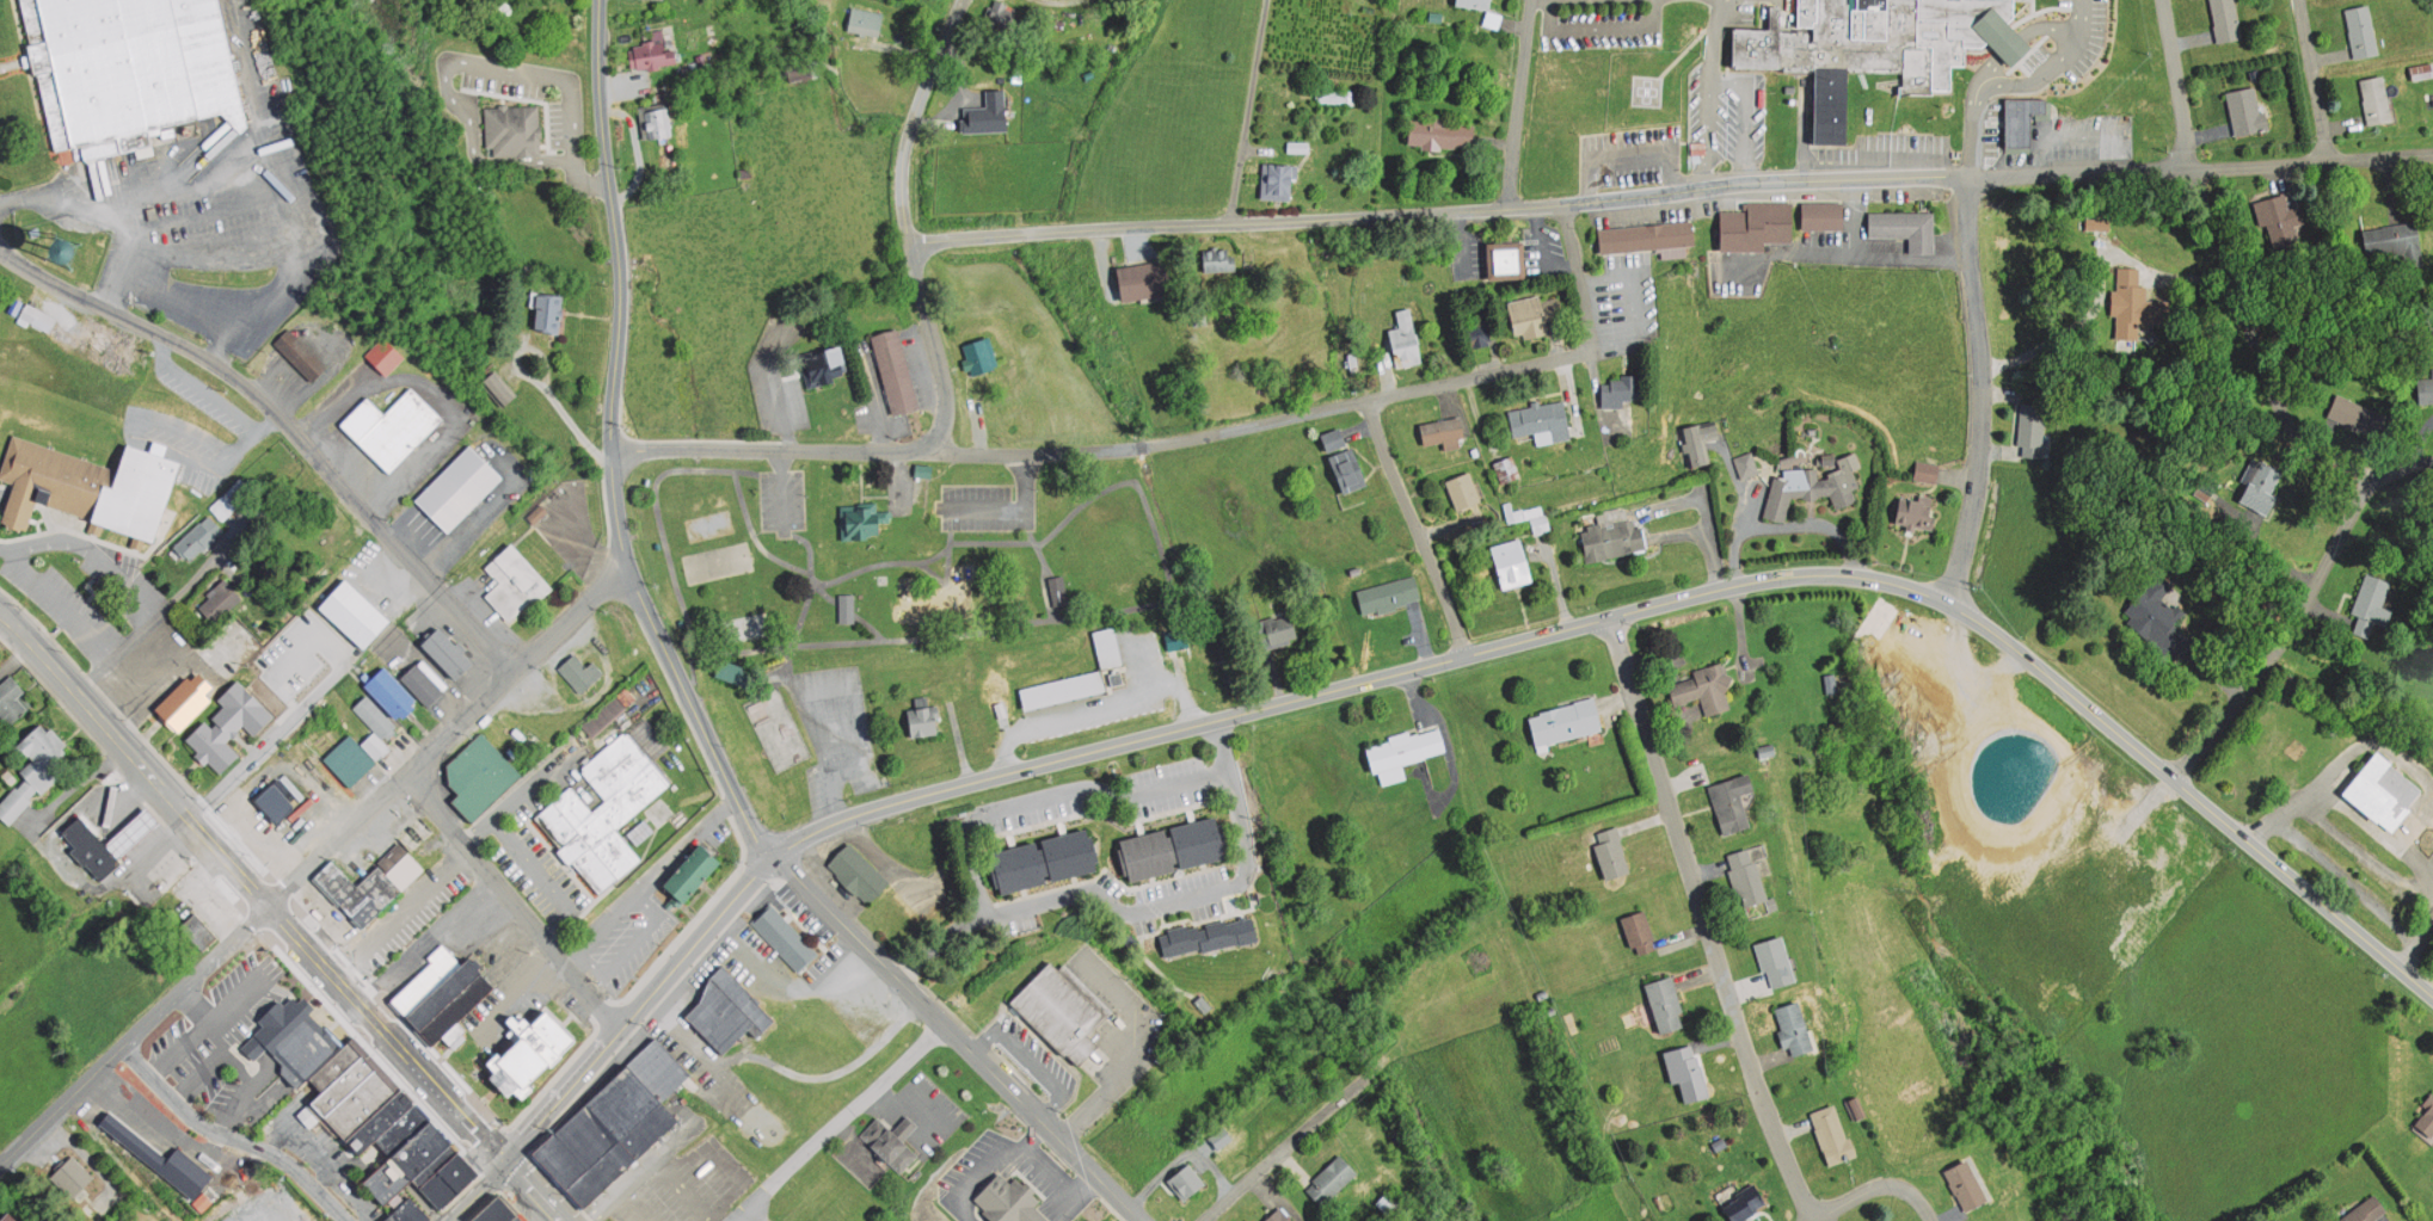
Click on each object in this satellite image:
building: (1476, 2)
building: (1003, 16)
building: (1436, 16)
road: (2076, 19)
building: (2228, 19)
building: (864, 20)
parking lot: (1601, 21)
road: (2047, 26)
building: (2365, 30)
building: (2013, 42)
road: (2010, 44)
parking lot: (2073, 44)
building: (1872, 45)
building: (652, 55)
building: (2422, 69)
building: (125, 70)
building: (801, 70)
road: (1987, 70)
road: (2309, 76)
road: (2176, 79)
road: (2034, 80)
helipad: (1647, 92)
road: (1709, 92)
building: (1333, 94)
building: (2379, 99)
road: (1517, 103)
building: (985, 107)
building: (2248, 109)
road: (1246, 111)
road: (1745, 113)
parking lot: (1724, 115)
building: (2025, 121)
building: (657, 123)
building: (514, 130)
road: (1971, 130)
building: (1442, 134)
road: (2096, 134)
parking lot: (2050, 138)
road: (1628, 155)
parking lot: (1630, 158)
building: (1274, 179)
road: (1671, 190)
building: (1825, 215)
building: (2280, 217)
building: (2097, 222)
building: (1758, 224)
road: (908, 226)
building: (1910, 227)
building: (1648, 236)
building: (2400, 241)
water tower: (70, 254)
building: (1221, 260)
building: (1506, 261)
building: (1141, 280)
building: (2136, 301)
building: (546, 310)
building: (1526, 319)
building: (1477, 335)
building: (1400, 340)
building: (301, 354)
building: (979, 354)
building: (386, 358)
building: (819, 362)
building: (895, 372)
road: (2238, 384)
building: (496, 387)
road: (1978, 387)
building: (1622, 389)
building: (2427, 389)
building: (2358, 415)
building: (1542, 421)
building: (216, 423)
building: (2036, 424)
road: (283, 425)
building: (1442, 428)
building: (382, 430)
road: (1180, 440)
building: (1702, 440)
road: (613, 445)
building: (1829, 457)
building: (1341, 461)
building: (1747, 463)
building: (1507, 467)
building: (923, 469)
building: (1927, 469)
building: (1812, 485)
building: (2261, 485)
building: (90, 486)
building: (1466, 491)
building: (450, 495)
parking lot: (987, 507)
building: (1917, 511)
building: (537, 512)
building: (861, 520)
road: (1415, 528)
building: (197, 537)
building: (1616, 537)
road: (767, 550)
road: (1043, 551)
road: (950, 556)
park: (718, 560)
building: (1512, 562)
road: (841, 576)
building: (515, 582)
park: (874, 590)
building: (1058, 591)
building: (1389, 593)
building: (220, 600)
building: (2373, 602)
building: (847, 608)
building: (2150, 608)
building: (362, 612)
building: (1278, 629)
road: (2283, 631)
road: (973, 634)
building: (1176, 637)
building: (961, 649)
building: (446, 652)
road: (1461, 656)
building: (730, 670)
building: (580, 671)
building: (1128, 680)
building: (422, 683)
building: (951, 687)
building: (1703, 690)
building: (389, 691)
building: (10, 698)
building: (183, 701)
building: (1031, 701)
building: (603, 714)
building: (371, 715)
building: (923, 717)
building: (1566, 720)
building: (231, 723)
parking lot: (832, 728)
park: (778, 729)
road: (448, 734)
building: (374, 745)
building: (1406, 746)
building: (349, 758)
building: (38, 764)
building: (479, 775)
building: (2389, 787)
building: (272, 801)
building: (1733, 801)
building: (604, 812)
building: (128, 831)
building: (641, 833)
building: (87, 845)
building: (1174, 849)
building: (1612, 855)
building: (1044, 861)
building: (690, 872)
building: (859, 872)
building: (1749, 874)
road: (252, 887)
building: (367, 888)
road: (511, 900)
building: (319, 907)
road: (1703, 921)
building: (197, 929)
building: (1640, 930)
building: (785, 935)
building: (1208, 936)
building: (1777, 958)
building: (423, 979)
building: (438, 993)
building: (2068, 997)
building: (1669, 1004)
building: (453, 1006)
building: (1059, 1010)
building: (730, 1011)
building: (1796, 1026)
road: (134, 1035)
road: (959, 1038)
building: (296, 1044)
building: (530, 1050)
building: (333, 1062)
building: (659, 1069)
building: (1688, 1072)
building: (339, 1081)
building: (357, 1100)
building: (2425, 1112)
building: (374, 1121)
building: (398, 1129)
building: (1832, 1131)
road: (232, 1135)
building: (607, 1135)
building: (892, 1140)
road: (1288, 1146)
building: (403, 1160)
traffic signals: (506, 1163)
building: (73, 1178)
building: (444, 1179)
building: (1332, 1179)
building: (1186, 1180)
building: (1967, 1183)
road: (477, 1191)
road: (533, 1191)
road: (1854, 1196)
building: (1006, 1198)
road: (1917, 1202)
building: (1387, 1204)
building: (1746, 1204)
building: (490, 1210)
building: (404, 1211)
building: (2372, 1214)
building: (8, 1217)
building: (512, 1217)
building: (1280, 1217)
building: (112, 1220)

